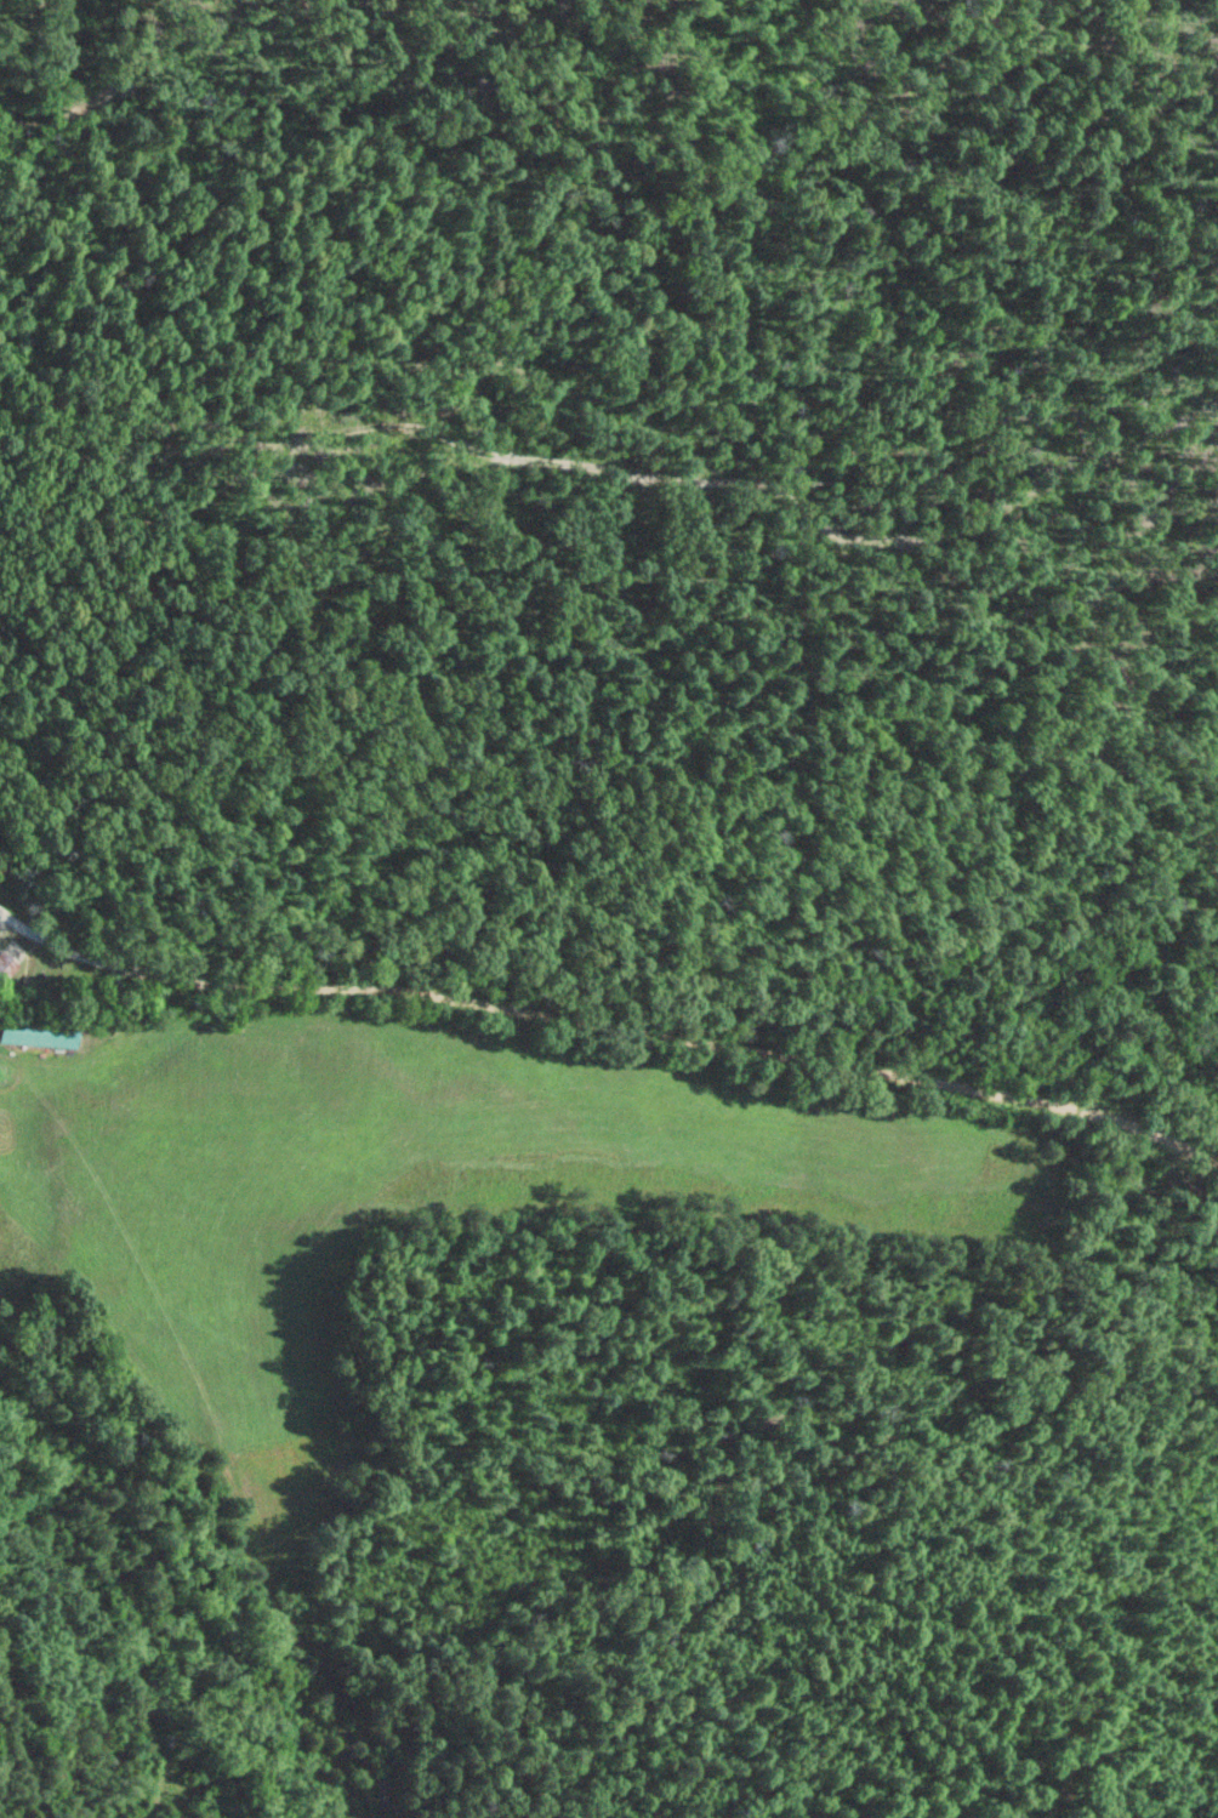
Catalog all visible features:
road: (1193, 34)
road: (107, 85)
road: (621, 474)
road: (609, 1027)

